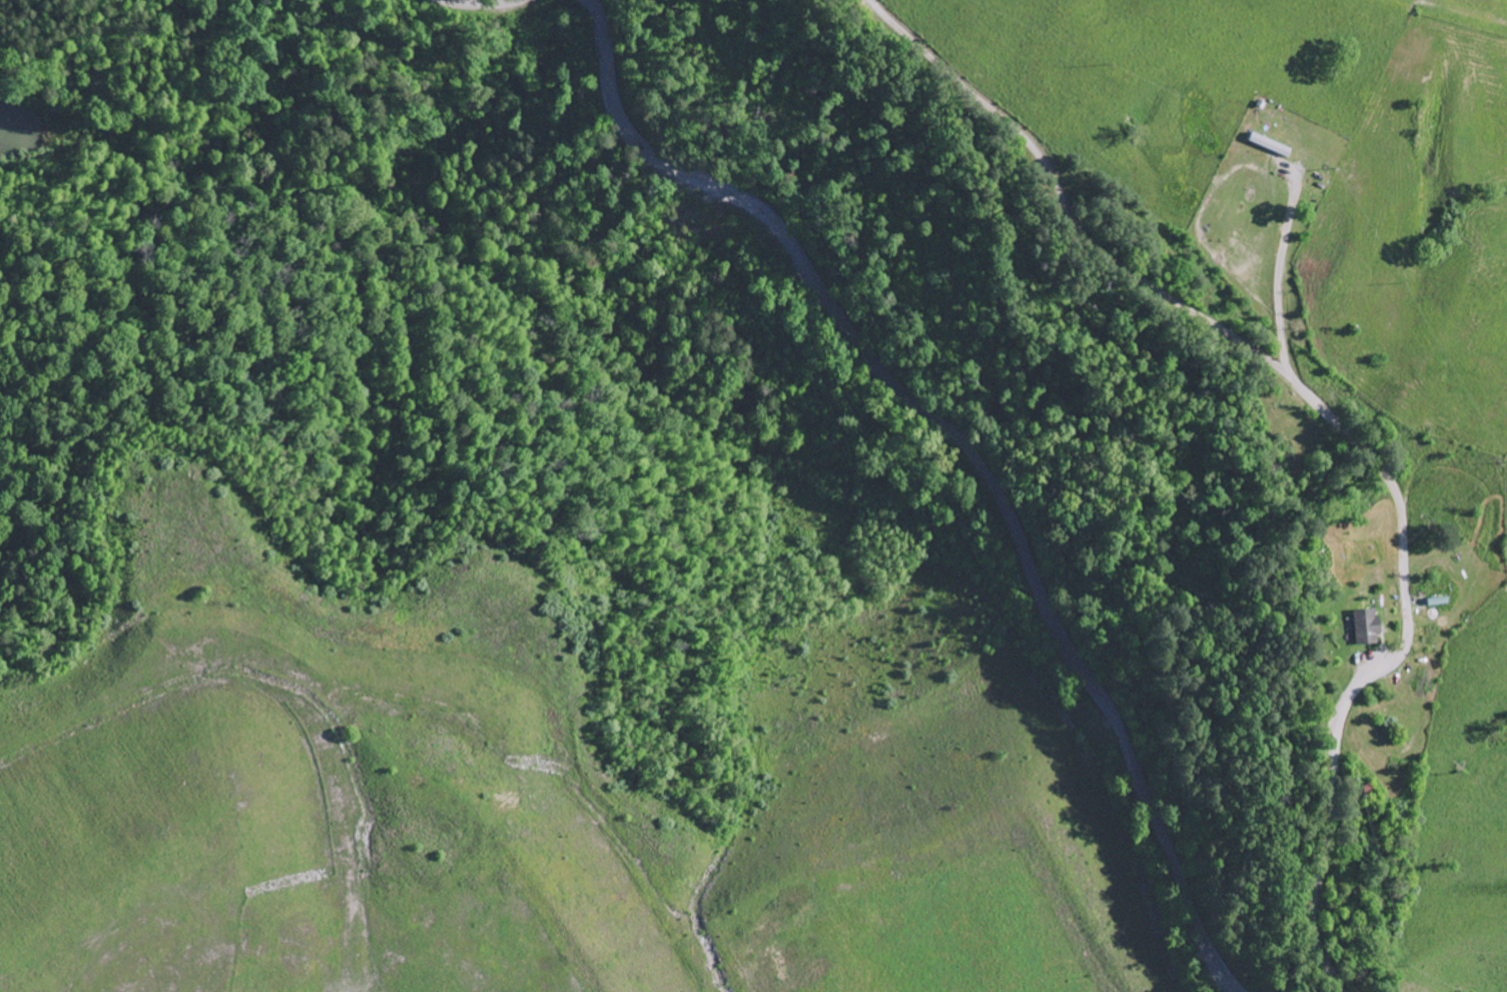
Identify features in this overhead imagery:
road: (48, 122)
building: (1272, 146)
road: (1333, 420)
road: (969, 450)
building: (1370, 629)

